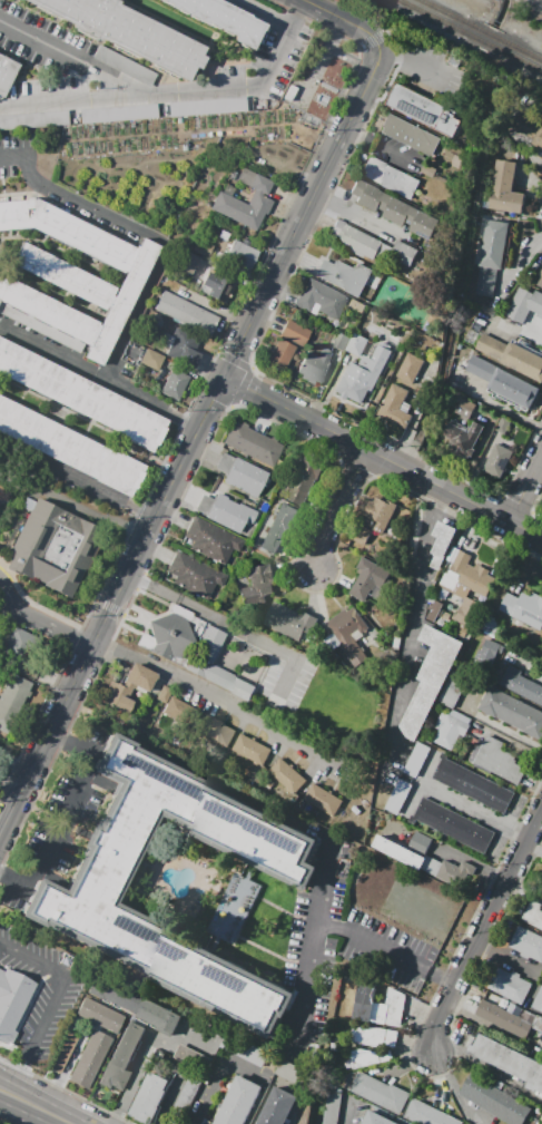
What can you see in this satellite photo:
road: (267, 13)
road: (338, 18)
building: (224, 19)
railway: (482, 29)
building: (129, 32)
railway: (472, 35)
road: (66, 53)
road: (412, 62)
building: (124, 67)
building: (7, 72)
road: (178, 89)
building: (290, 92)
building: (321, 101)
building: (207, 107)
building: (425, 109)
building: (118, 114)
building: (33, 120)
building: (526, 126)
building: (411, 134)
building: (539, 138)
road: (377, 145)
road: (530, 153)
road: (11, 157)
building: (428, 170)
building: (390, 177)
road: (531, 185)
building: (506, 188)
building: (367, 195)
building: (246, 204)
road: (88, 206)
road: (305, 209)
building: (394, 209)
road: (363, 219)
building: (421, 223)
building: (357, 242)
building: (495, 244)
building: (203, 247)
building: (242, 254)
building: (403, 254)
building: (184, 262)
road: (522, 262)
building: (71, 277)
building: (341, 277)
building: (540, 280)
building: (485, 281)
building: (219, 285)
building: (321, 300)
building: (536, 302)
building: (520, 304)
building: (187, 313)
road: (135, 314)
road: (511, 329)
building: (341, 341)
building: (287, 342)
building: (357, 344)
building: (181, 345)
building: (512, 355)
building: (152, 360)
building: (315, 364)
building: (410, 366)
building: (364, 373)
road: (98, 378)
building: (503, 381)
building: (175, 384)
building: (80, 397)
building: (394, 405)
building: (465, 408)
road: (500, 408)
road: (414, 416)
building: (503, 423)
building: (463, 437)
building: (240, 438)
building: (70, 448)
building: (266, 450)
road: (382, 457)
building: (496, 460)
building: (242, 475)
road: (78, 476)
building: (304, 478)
road: (524, 488)
road: (72, 505)
road: (334, 509)
building: (226, 511)
building: (382, 516)
building: (278, 528)
building: (361, 534)
building: (211, 540)
building: (441, 543)
building: (53, 546)
building: (466, 574)
building: (195, 575)
building: (368, 579)
building: (258, 585)
road: (422, 590)
road: (6, 594)
road: (110, 604)
building: (524, 608)
road: (7, 609)
building: (434, 610)
building: (469, 613)
building: (289, 620)
building: (492, 626)
road: (51, 627)
building: (349, 633)
building: (171, 634)
road: (239, 643)
building: (17, 644)
building: (487, 652)
building: (203, 655)
road: (525, 664)
building: (431, 677)
building: (521, 684)
building: (126, 688)
building: (16, 690)
building: (452, 690)
building: (164, 695)
road: (220, 695)
building: (174, 708)
building: (513, 712)
building: (7, 714)
building: (451, 729)
building: (215, 731)
road: (511, 732)
road: (511, 742)
building: (250, 750)
road: (16, 756)
building: (416, 759)
building: (499, 760)
building: (444, 769)
building: (286, 776)
building: (459, 778)
road: (421, 784)
building: (473, 784)
road: (9, 785)
building: (486, 792)
building: (397, 796)
building: (501, 799)
building: (322, 800)
building: (423, 811)
road: (475, 812)
road: (69, 814)
building: (438, 817)
building: (453, 824)
building: (467, 831)
building: (482, 839)
building: (420, 842)
road: (534, 849)
building: (398, 851)
road: (472, 860)
building: (450, 871)
building: (96, 883)
building: (541, 887)
road: (525, 890)
building: (235, 906)
building: (533, 913)
road: (483, 936)
building: (521, 939)
road: (315, 945)
parking lot: (344, 948)
building: (534, 948)
road: (388, 951)
road: (511, 959)
building: (510, 985)
road: (534, 989)
parking lot: (43, 991)
building: (539, 1000)
road: (50, 1003)
building: (12, 1004)
building: (135, 1004)
building: (368, 1006)
building: (394, 1007)
building: (99, 1016)
building: (509, 1017)
road: (491, 1027)
building: (373, 1036)
building: (63, 1053)
building: (252, 1053)
road: (144, 1056)
building: (193, 1057)
building: (367, 1057)
building: (121, 1058)
building: (90, 1059)
building: (507, 1059)
road: (487, 1068)
building: (289, 1071)
road: (453, 1088)
building: (188, 1089)
road: (211, 1092)
building: (380, 1092)
building: (479, 1092)
road: (11, 1095)
building: (152, 1097)
road: (168, 1098)
building: (238, 1102)
building: (278, 1107)
building: (509, 1108)
road: (45, 1112)
building: (420, 1112)
building: (380, 1118)
building: (444, 1118)

